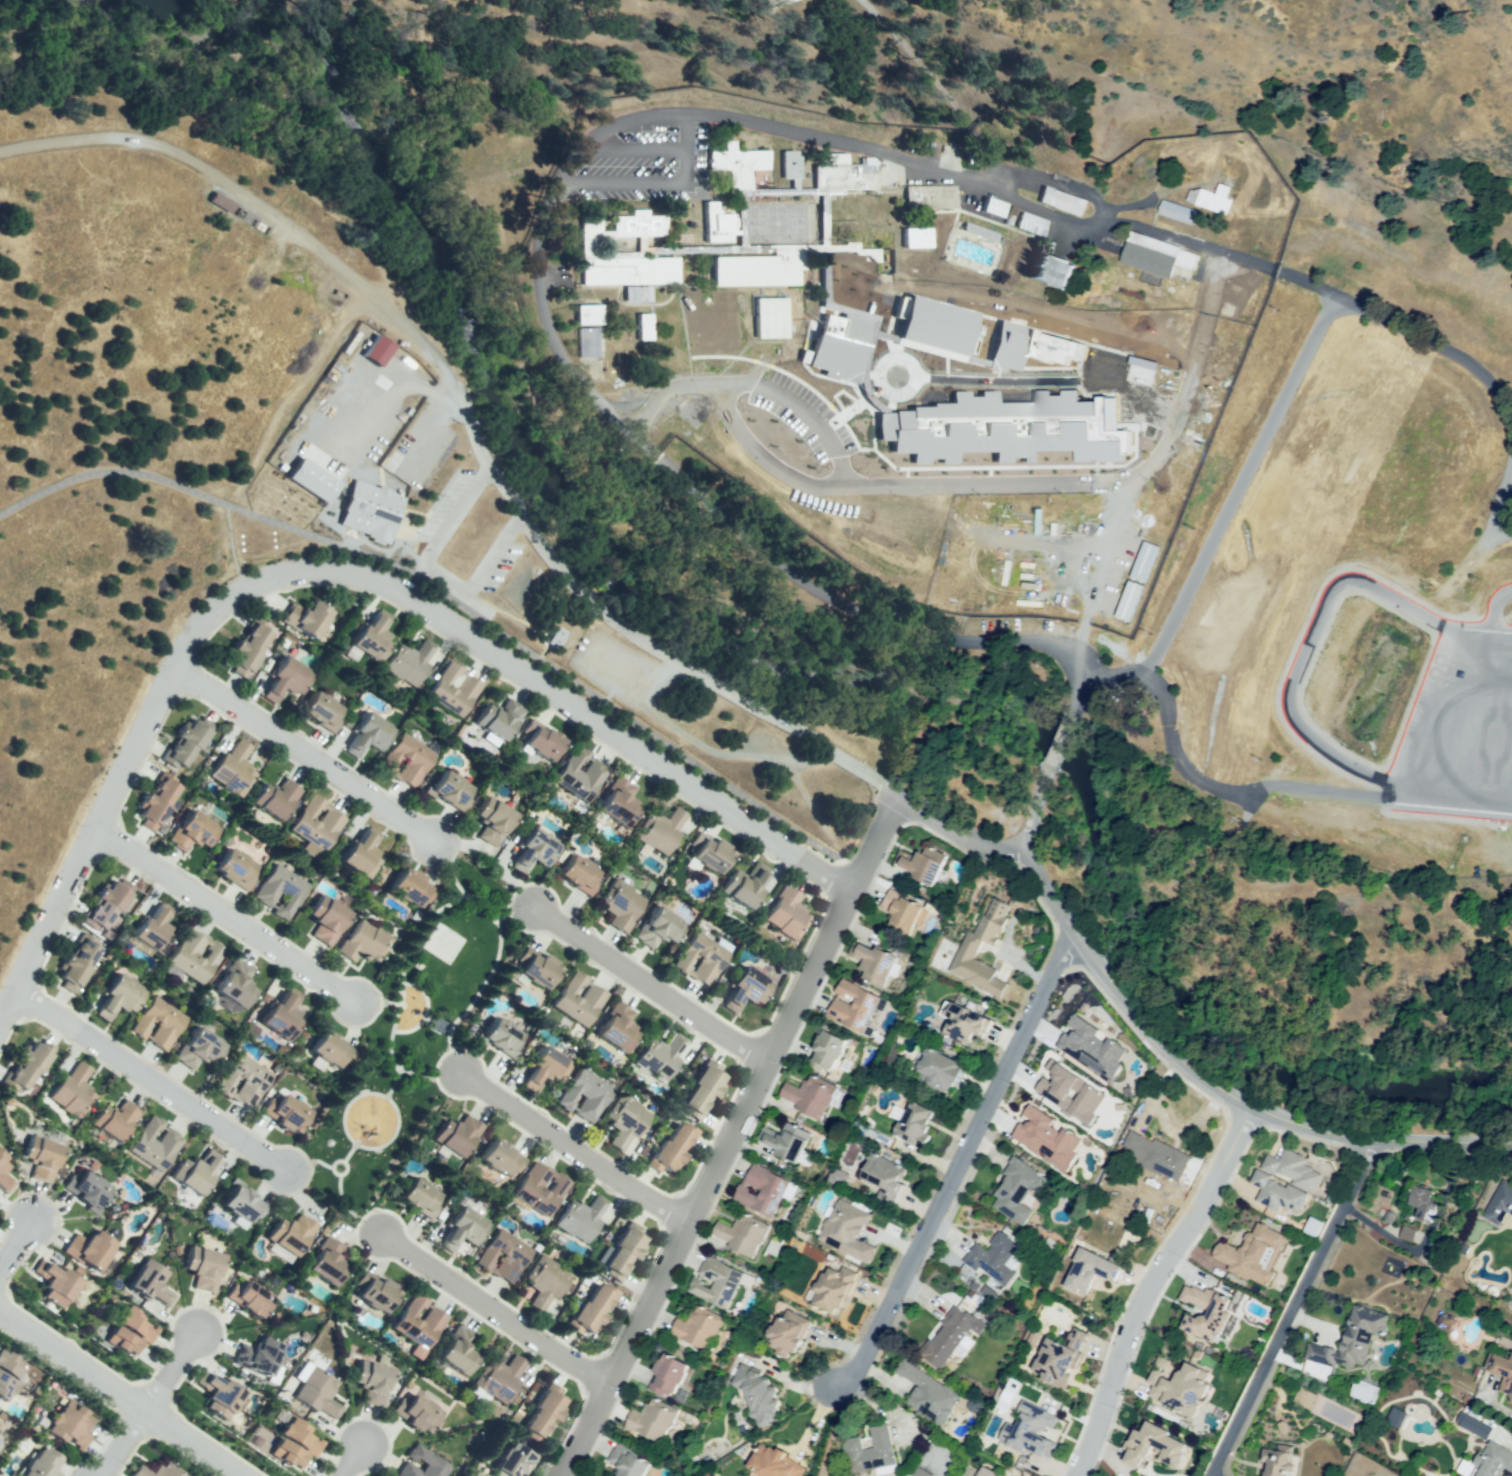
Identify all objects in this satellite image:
building: (755, 1)
building: (780, 3)
road: (943, 89)
road: (241, 94)
road: (688, 133)
parking lot: (650, 164)
building: (740, 165)
building: (792, 165)
building: (840, 176)
road: (687, 184)
building: (1224, 193)
building: (928, 201)
building: (1063, 201)
building: (221, 202)
building: (994, 210)
building: (1181, 214)
park: (776, 222)
building: (1030, 223)
building: (640, 225)
building: (717, 225)
building: (919, 237)
building: (1146, 262)
building: (629, 270)
building: (753, 271)
building: (1051, 274)
building: (845, 283)
building: (632, 296)
road: (373, 300)
building: (590, 317)
road: (543, 318)
building: (769, 320)
building: (933, 326)
building: (644, 328)
building: (591, 342)
building: (1029, 347)
building: (375, 350)
street lamp: (915, 358)
road: (1462, 359)
street lamp: (787, 366)
road: (1001, 379)
street lamp: (942, 385)
street lamp: (979, 387)
street lamp: (1016, 387)
road: (670, 392)
road: (287, 393)
street lamp: (896, 405)
street lamp: (741, 410)
road: (809, 418)
street lamp: (849, 419)
building: (1006, 428)
road: (751, 447)
street lamp: (779, 451)
street lamp: (827, 468)
building: (305, 480)
road: (1064, 482)
road: (1237, 485)
street lamp: (893, 496)
parking lot: (447, 509)
building: (366, 512)
road: (244, 554)
building: (1143, 561)
road: (1099, 564)
parking lot: (491, 569)
road: (435, 571)
road: (338, 572)
street lamp: (284, 588)
road: (453, 597)
building: (1127, 600)
building: (313, 617)
road: (518, 622)
building: (556, 636)
building: (371, 638)
road: (1397, 644)
building: (250, 645)
building: (410, 660)
street lamp: (156, 664)
parking lot: (618, 668)
building: (288, 678)
road: (551, 680)
building: (455, 690)
road: (1080, 699)
street lamp: (588, 700)
street lamp: (206, 707)
building: (324, 710)
building: (503, 717)
building: (369, 733)
building: (547, 739)
building: (182, 744)
parking lot: (767, 744)
road: (1056, 744)
road: (302, 754)
road: (741, 757)
building: (409, 759)
street lamp: (629, 766)
building: (234, 767)
building: (581, 773)
street lamp: (134, 775)
building: (455, 789)
road: (1041, 789)
building: (276, 797)
building: (157, 802)
building: (618, 802)
building: (496, 820)
building: (318, 823)
street lamp: (77, 824)
building: (192, 829)
road: (1032, 829)
building: (661, 831)
building: (710, 848)
road: (960, 849)
building: (536, 850)
building: (364, 853)
building: (923, 863)
building: (237, 866)
road: (450, 867)
street lamp: (127, 869)
building: (580, 874)
building: (746, 882)
building: (412, 885)
building: (282, 889)
building: (622, 901)
street lamp: (860, 903)
building: (113, 906)
building: (903, 909)
building: (788, 912)
road: (517, 914)
road: (227, 916)
building: (327, 916)
road: (1063, 917)
street lamp: (1078, 917)
building: (660, 927)
building: (154, 929)
building: (365, 941)
road: (1061, 948)
building: (967, 952)
building: (194, 955)
building: (702, 958)
building: (81, 962)
road: (403, 963)
building: (874, 963)
building: (540, 969)
building: (236, 983)
road: (650, 986)
building: (748, 988)
street lamp: (1097, 991)
building: (120, 995)
building: (566, 998)
building: (854, 1003)
road: (426, 1004)
road: (377, 1007)
building: (281, 1015)
building: (162, 1023)
building: (618, 1026)
building: (964, 1027)
street lamp: (45, 1028)
road: (410, 1029)
building: (503, 1036)
park: (413, 1039)
building: (201, 1047)
building: (834, 1049)
building: (1090, 1049)
building: (330, 1050)
building: (662, 1055)
building: (27, 1066)
building: (548, 1066)
street lamp: (157, 1069)
building: (939, 1070)
road: (428, 1077)
building: (246, 1080)
road: (153, 1082)
building: (1070, 1084)
building: (704, 1089)
building: (73, 1090)
building: (586, 1093)
building: (809, 1096)
building: (287, 1109)
road: (1223, 1109)
building: (115, 1119)
building: (920, 1119)
building: (627, 1120)
building: (1046, 1128)
building: (459, 1133)
road: (1483, 1136)
road: (391, 1137)
road: (726, 1140)
building: (787, 1140)
road: (1441, 1143)
building: (156, 1145)
building: (674, 1145)
road: (572, 1147)
building: (43, 1158)
building: (503, 1158)
building: (1157, 1158)
road: (955, 1168)
building: (1290, 1168)
building: (883, 1173)
building: (195, 1175)
building: (5, 1176)
building: (89, 1187)
building: (765, 1187)
building: (540, 1189)
building: (1018, 1190)
building: (1275, 1194)
building: (424, 1198)
building: (1498, 1201)
building: (242, 1203)
building: (1417, 1205)
road: (347, 1208)
building: (581, 1218)
building: (847, 1222)
building: (465, 1228)
building: (1311, 1228)
building: (292, 1234)
building: (1407, 1234)
building: (742, 1236)
road: (16, 1244)
building: (92, 1250)
building: (625, 1251)
building: (1253, 1255)
building: (504, 1256)
building: (330, 1261)
building: (993, 1261)
building: (204, 1268)
building: (1097, 1271)
building: (832, 1276)
building: (54, 1281)
building: (150, 1282)
building: (548, 1283)
building: (718, 1283)
road: (1148, 1290)
building: (379, 1293)
building: (252, 1296)
road: (494, 1309)
road: (1289, 1310)
building: (591, 1311)
building: (1203, 1314)
building: (433, 1322)
building: (141, 1324)
building: (697, 1328)
building: (790, 1334)
building: (951, 1335)
building: (1032, 1336)
building: (1351, 1341)
building: (125, 1342)
building: (459, 1352)
building: (1064, 1356)
building: (259, 1357)
building: (10, 1365)
road: (173, 1371)
building: (672, 1374)
building: (1501, 1378)
building: (501, 1380)
building: (375, 1383)
building: (1180, 1384)
building: (6, 1388)
building: (316, 1391)
building: (928, 1391)
road: (121, 1392)
building: (221, 1395)
building: (760, 1395)
building: (417, 1412)
building: (544, 1413)
building: (1395, 1417)
building: (653, 1422)
building: (69, 1425)
building: (1472, 1425)
road: (830, 1431)
building: (1033, 1431)
building: (302, 1435)
road: (123, 1443)
building: (1155, 1445)
building: (886, 1446)
building: (288, 1456)
building: (1276, 1458)
building: (424, 1459)
building: (514, 1460)
road: (355, 1461)
building: (775, 1461)
building: (1490, 1461)
building: (631, 1462)
building: (44, 1465)
building: (159, 1470)
building: (985, 1473)

